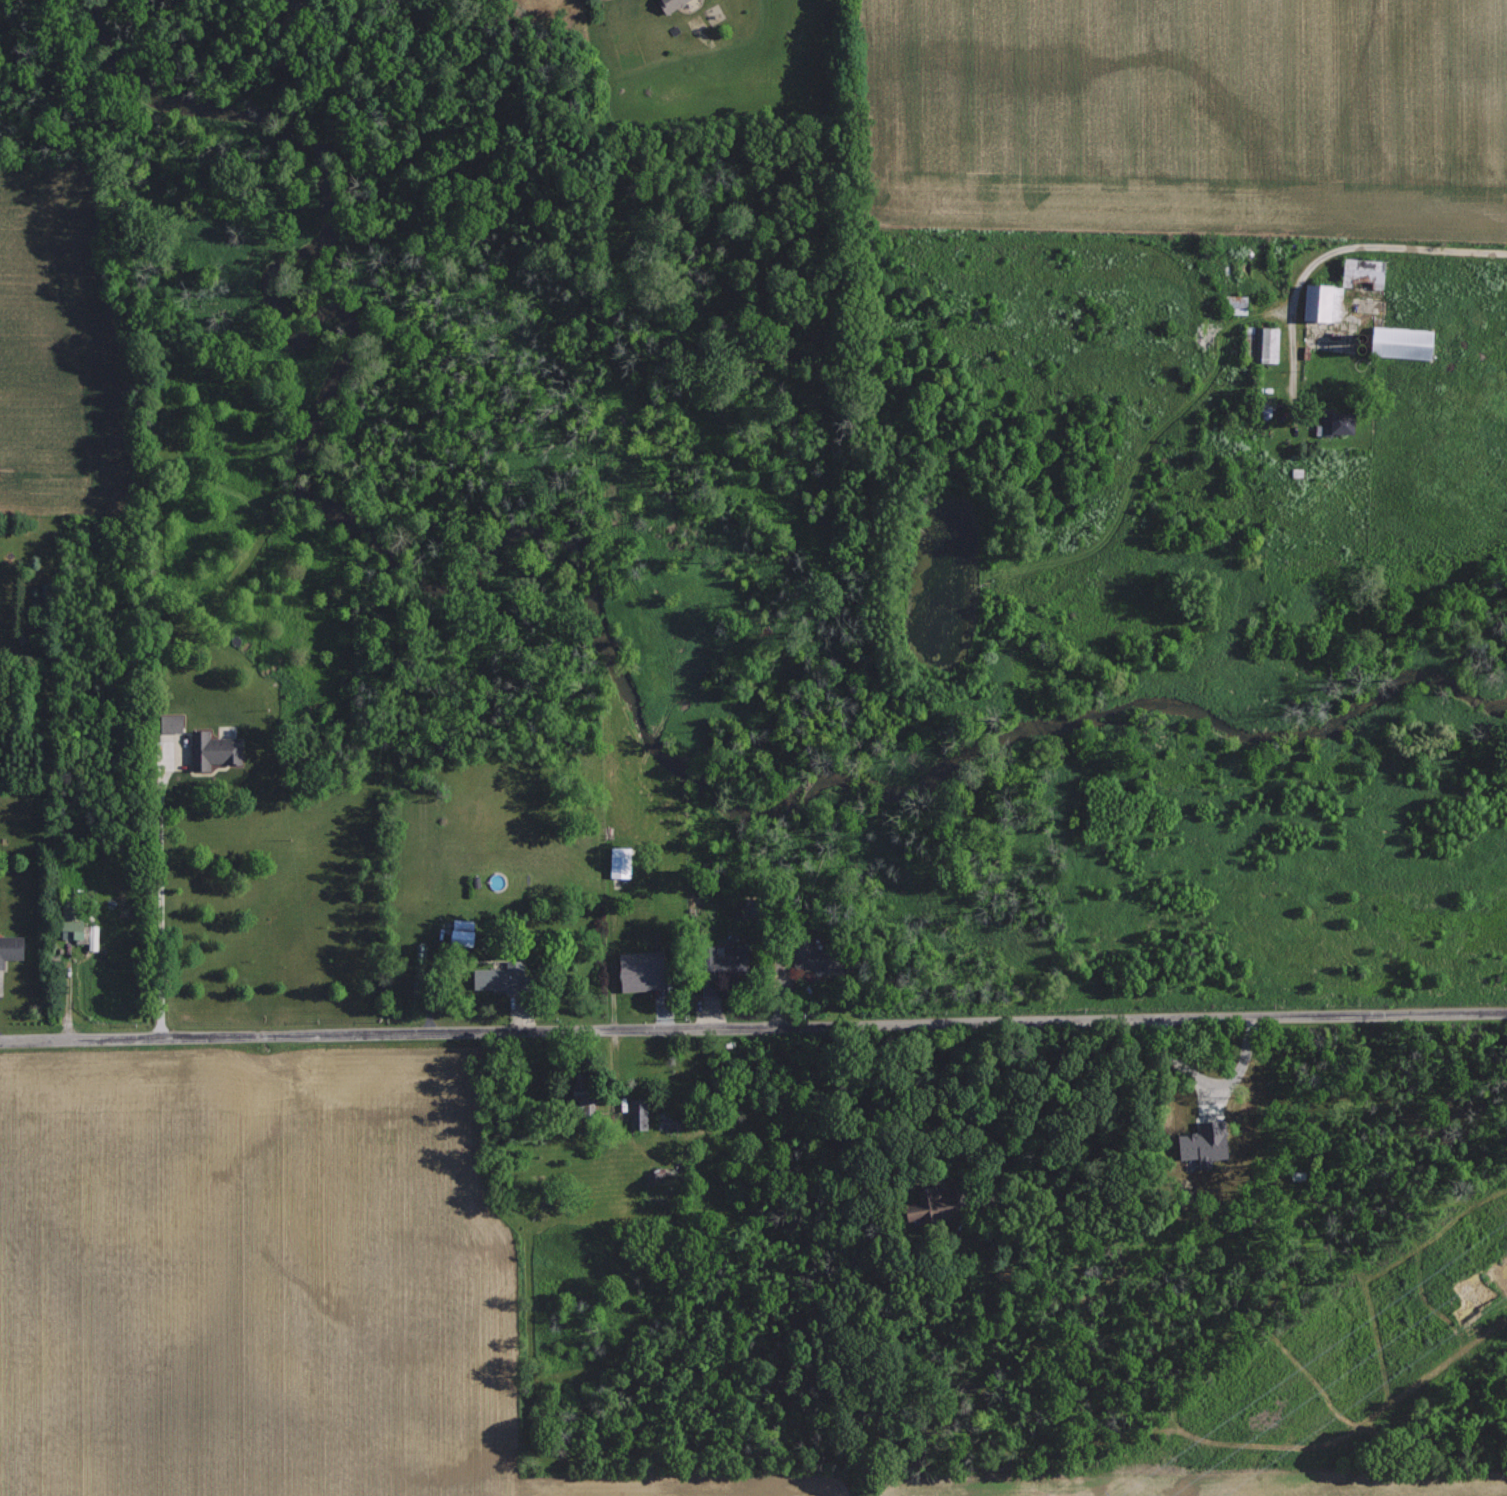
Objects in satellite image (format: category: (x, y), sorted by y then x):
building: (669, 4)
road: (1349, 255)
building: (1360, 273)
building: (1314, 302)
building: (1234, 304)
building: (1332, 309)
building: (1400, 343)
building: (1266, 344)
building: (168, 723)
building: (618, 862)
road: (158, 890)
building: (69, 929)
building: (92, 937)
building: (456, 937)
building: (10, 948)
building: (802, 954)
building: (636, 971)
building: (496, 977)
building: (708, 985)
road: (753, 1027)
building: (637, 1113)
building: (926, 1207)

